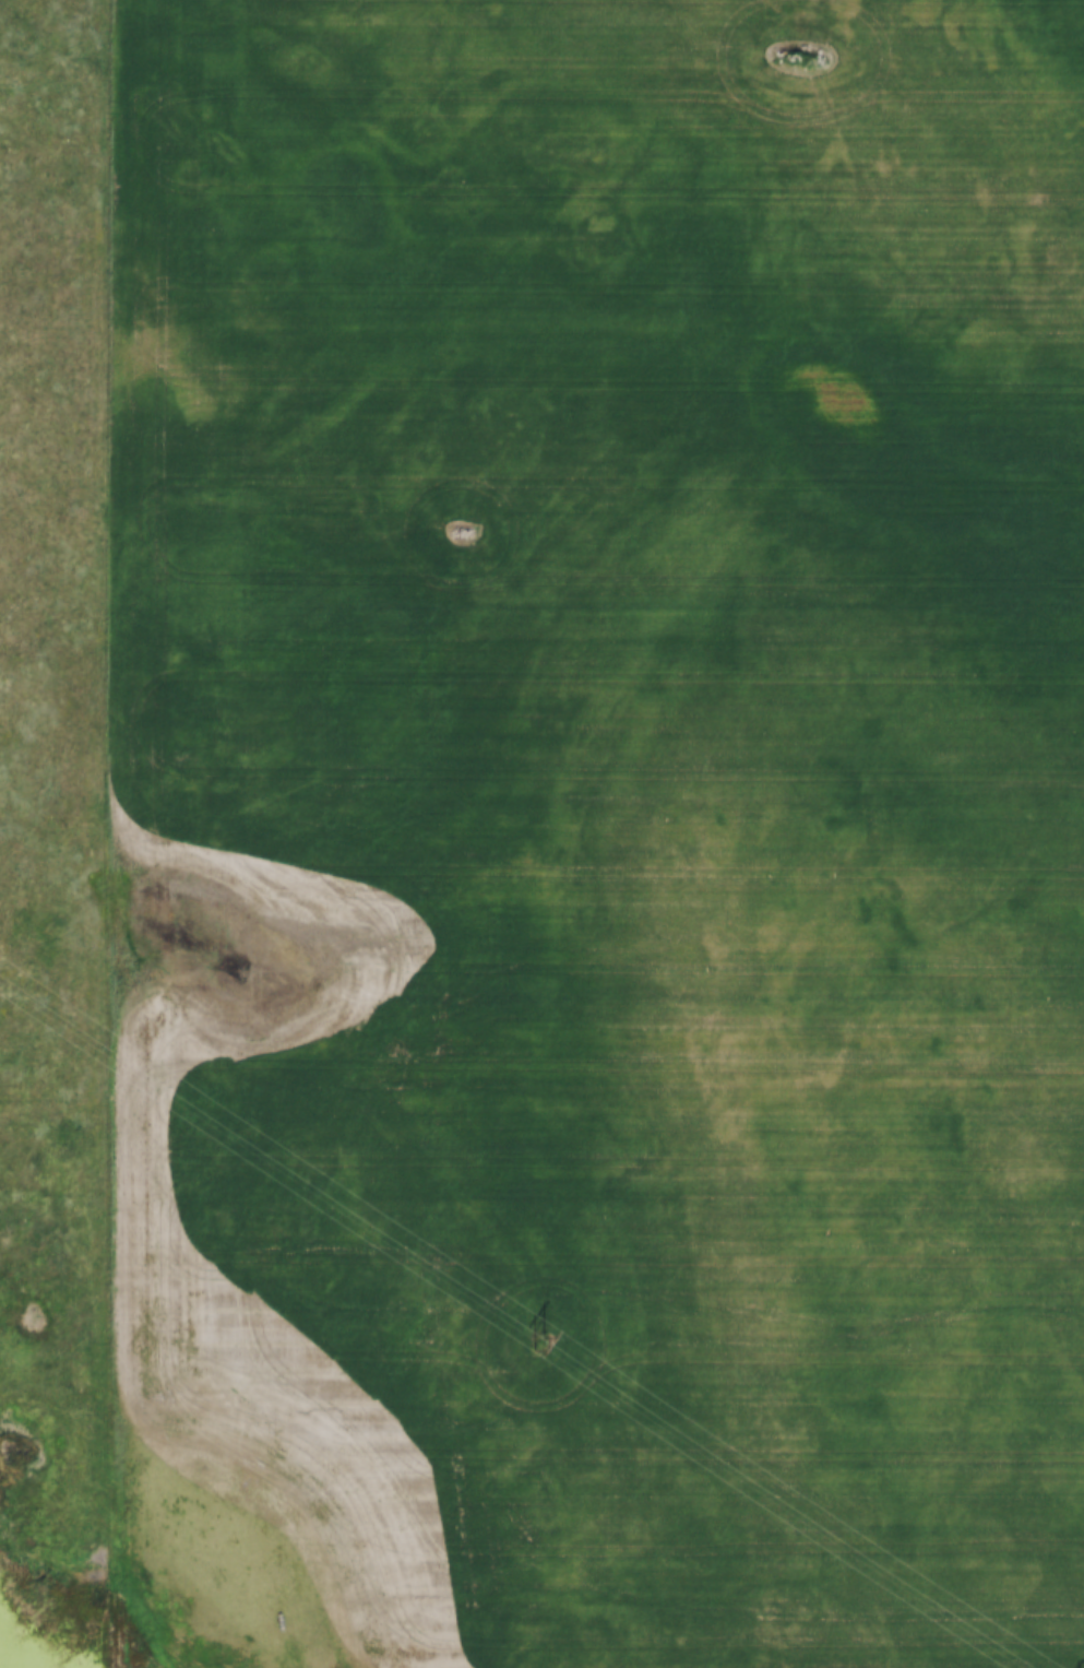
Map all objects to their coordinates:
power tower: (538, 1344)

